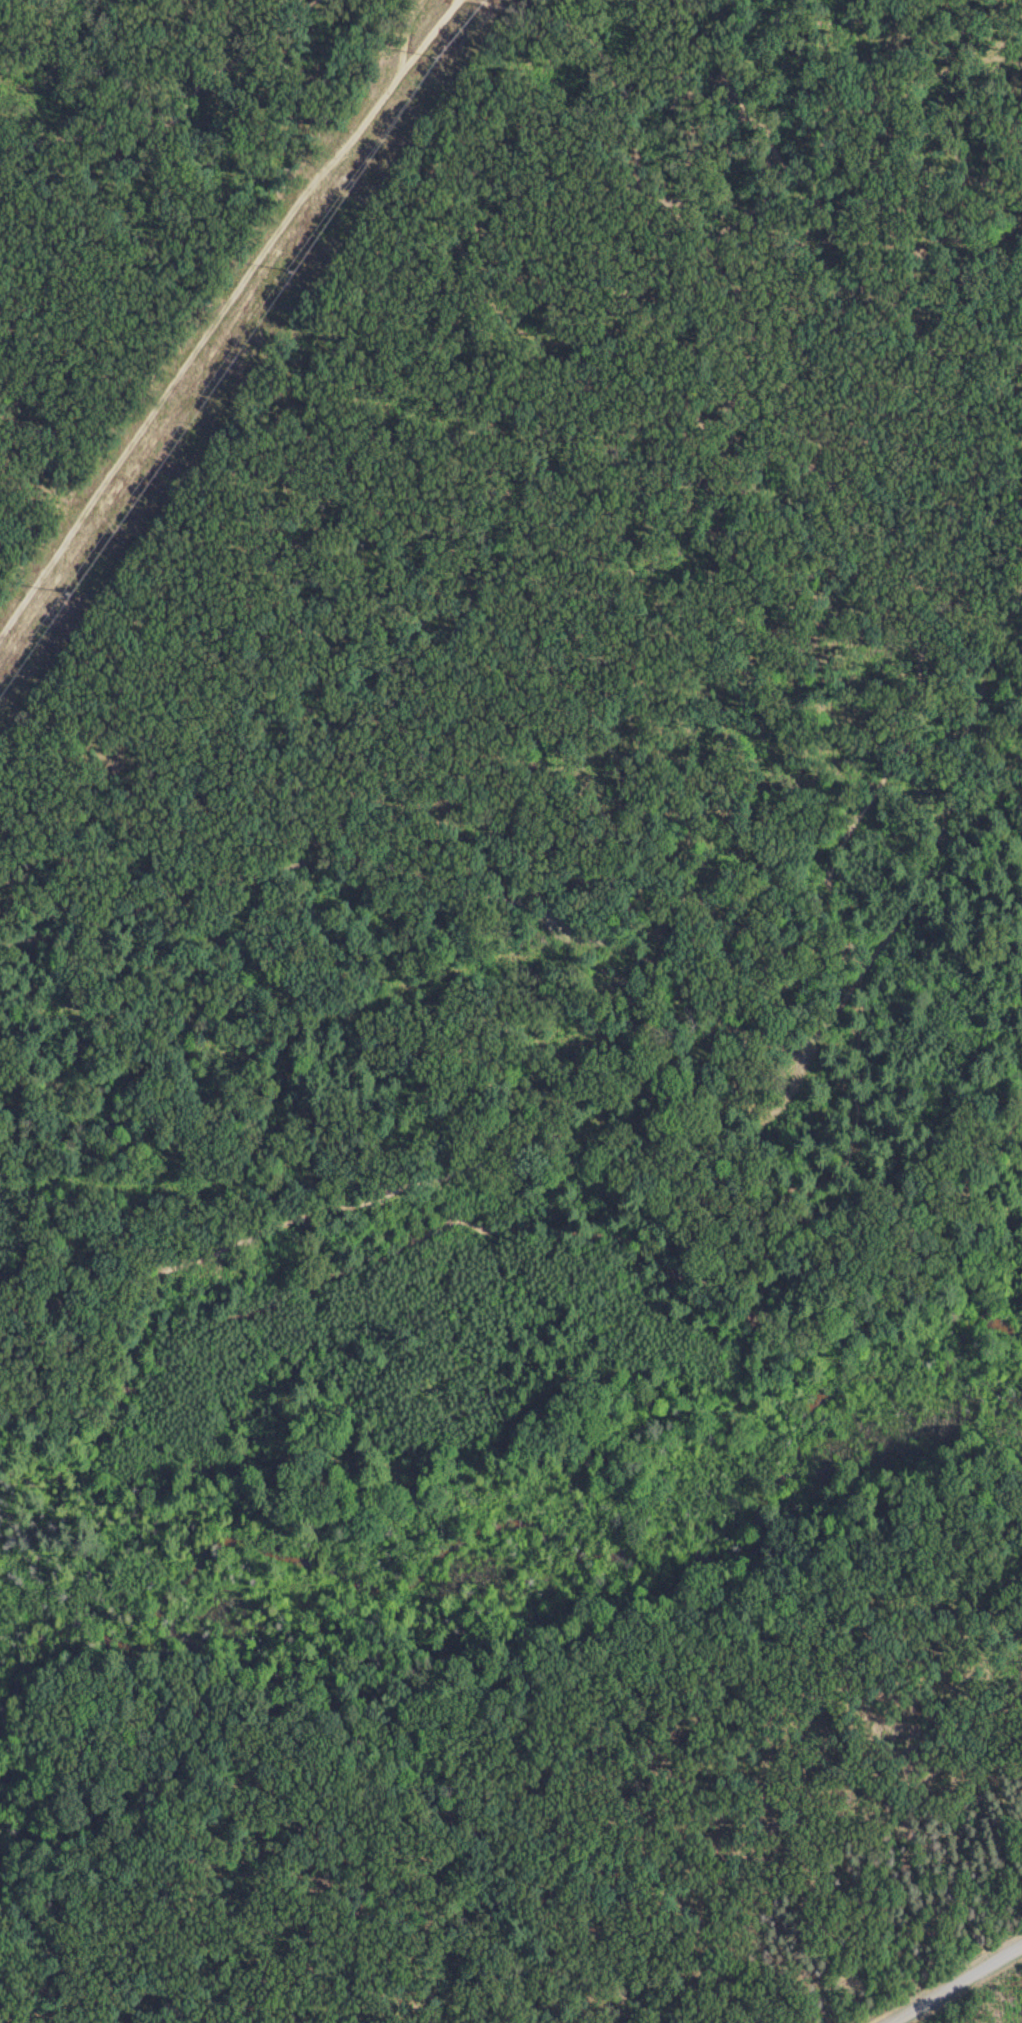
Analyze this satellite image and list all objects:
road: (33, 31)
road: (175, 99)
road: (784, 155)
road: (876, 794)
road: (539, 1226)
road: (389, 1749)
road: (566, 1844)
road: (948, 1980)
wastewater plant: (982, 2000)

